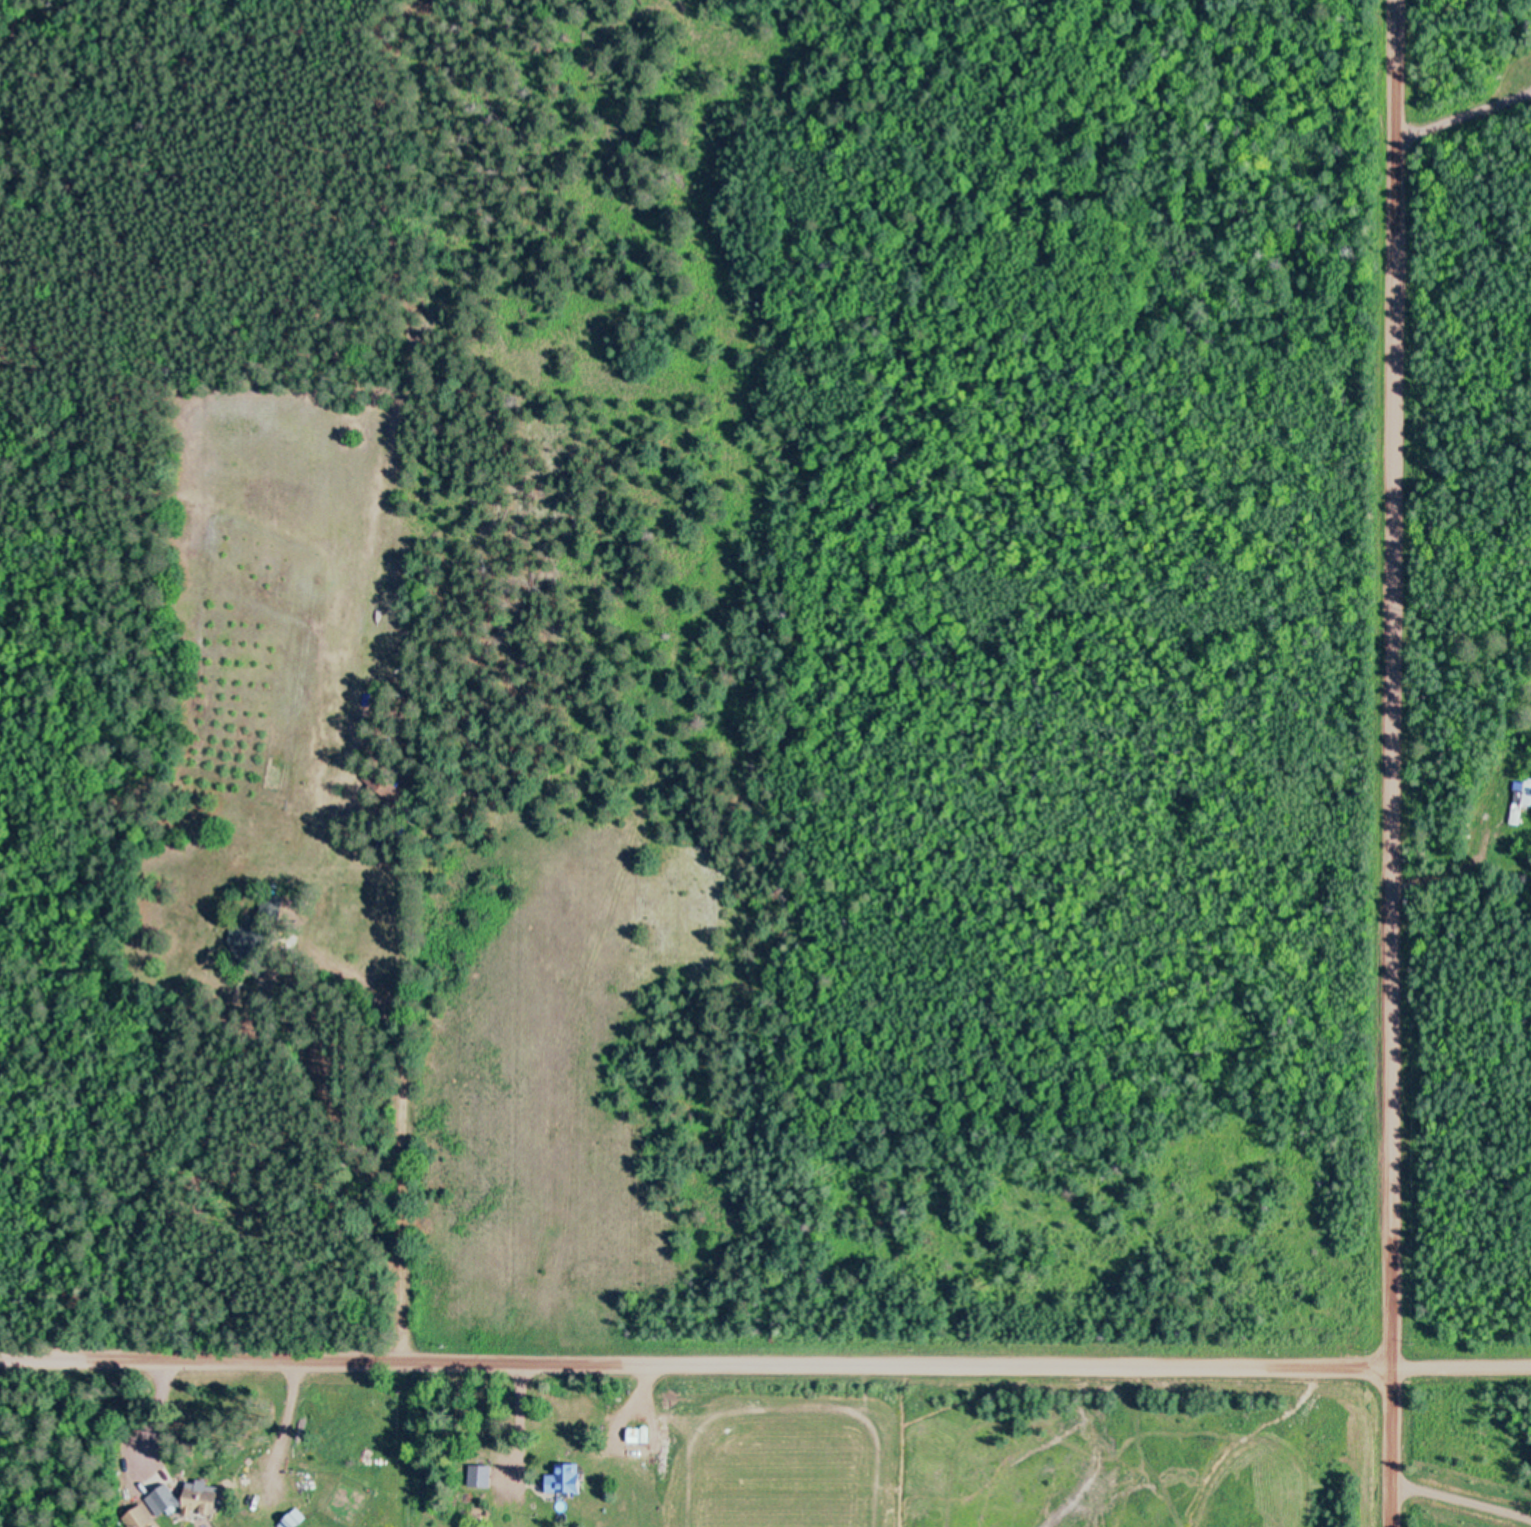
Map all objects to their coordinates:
road: (1390, 684)
building: (382, 786)
building: (1521, 797)
building: (273, 904)
building: (250, 940)
road: (309, 1000)
road: (765, 1365)
building: (675, 1410)
building: (636, 1435)
road: (1392, 1447)
building: (480, 1474)
building: (566, 1478)
building: (186, 1498)
building: (142, 1517)
building: (294, 1518)

